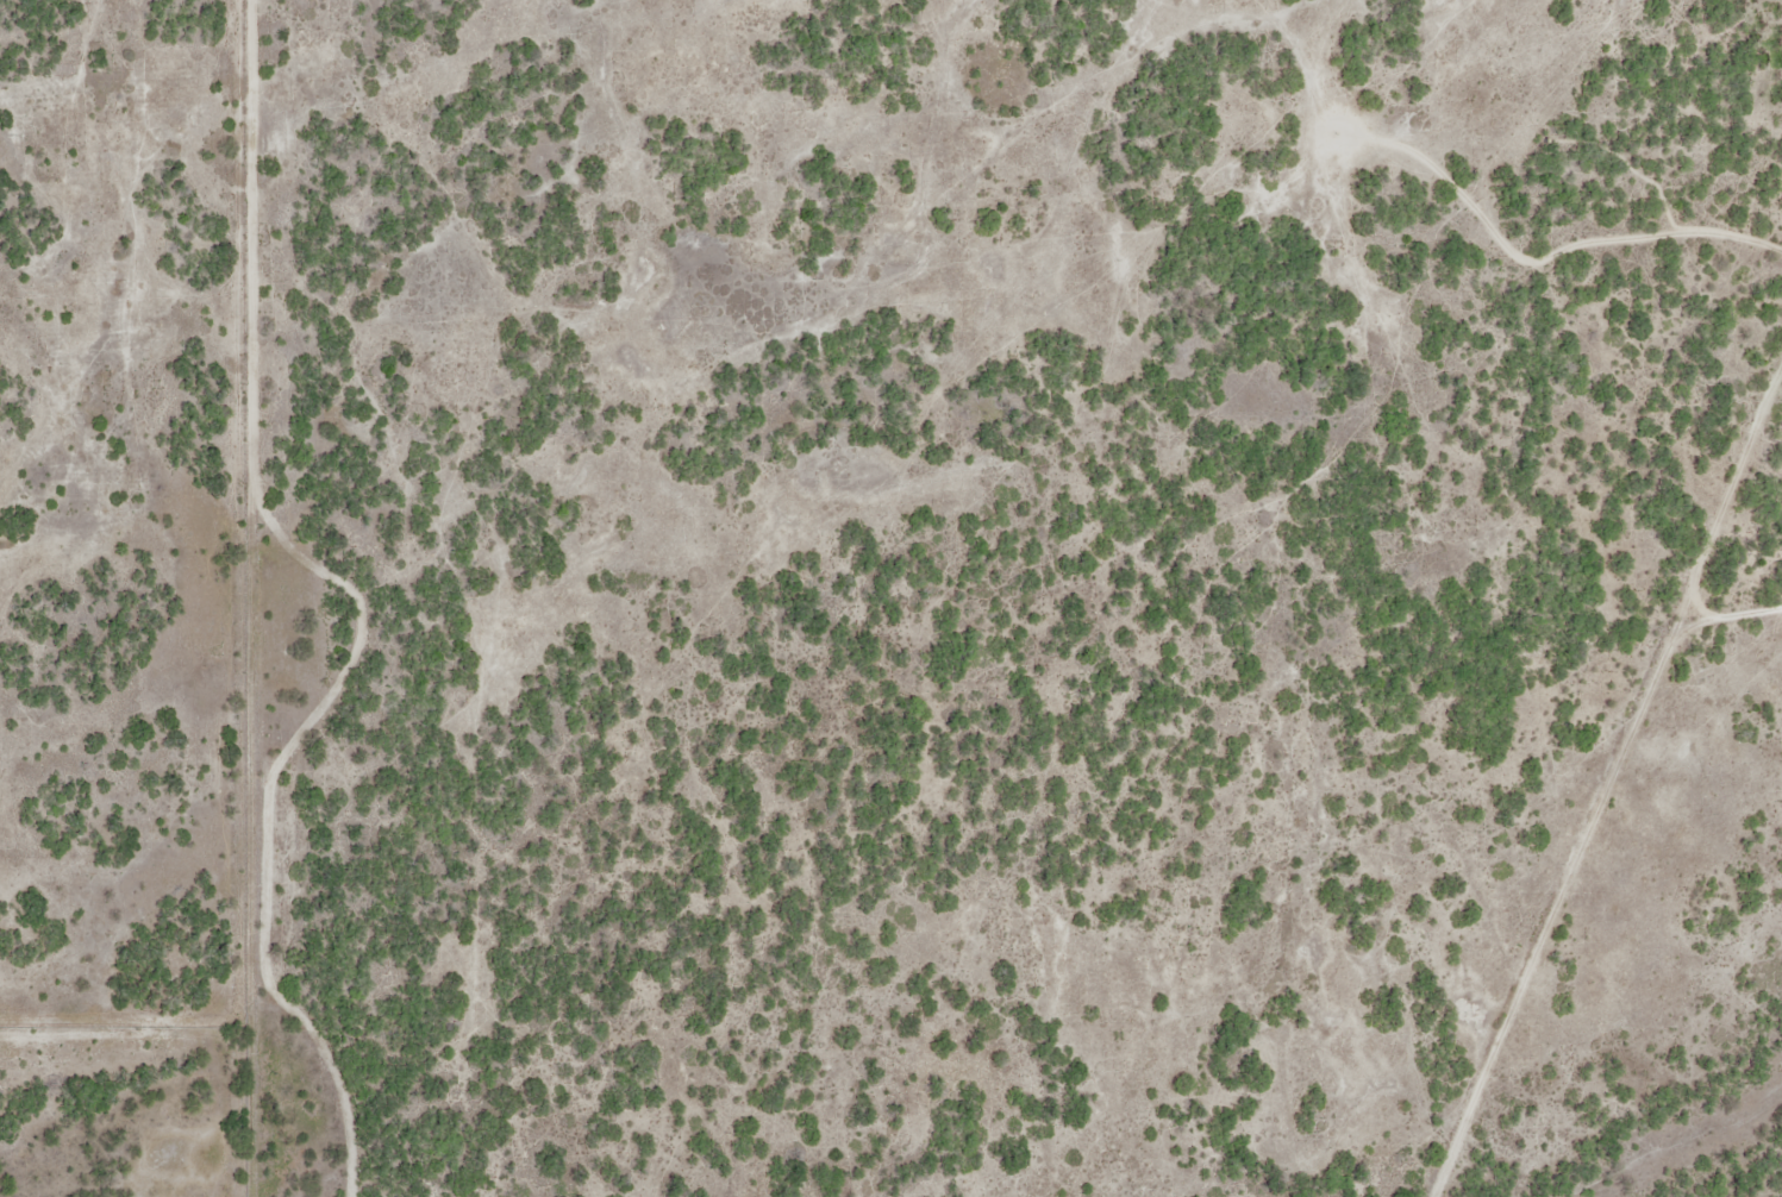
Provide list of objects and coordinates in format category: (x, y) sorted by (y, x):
road: (1646, 676)

